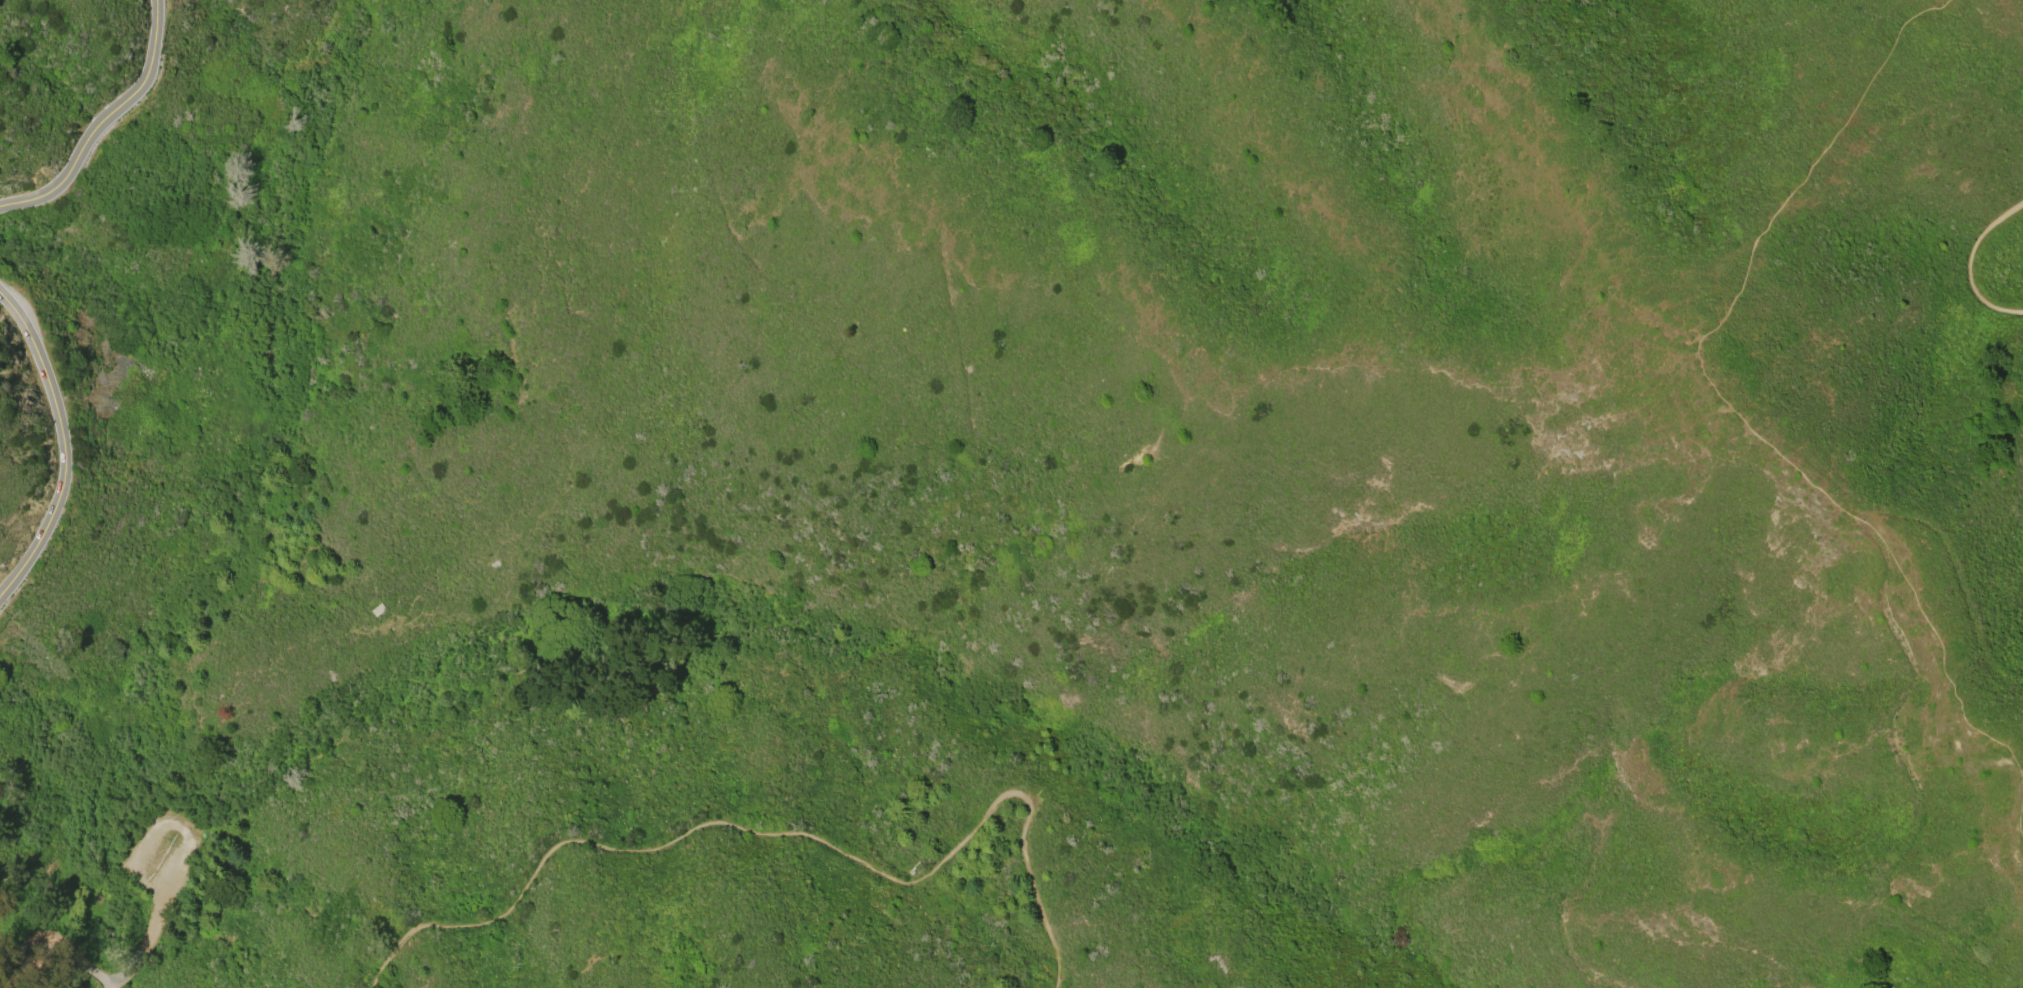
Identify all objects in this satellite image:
road: (103, 122)
road: (1970, 263)
road: (1744, 421)
road: (69, 445)
road: (784, 839)
parking lot: (169, 858)
road: (145, 947)
road: (54, 965)
road: (37, 976)

